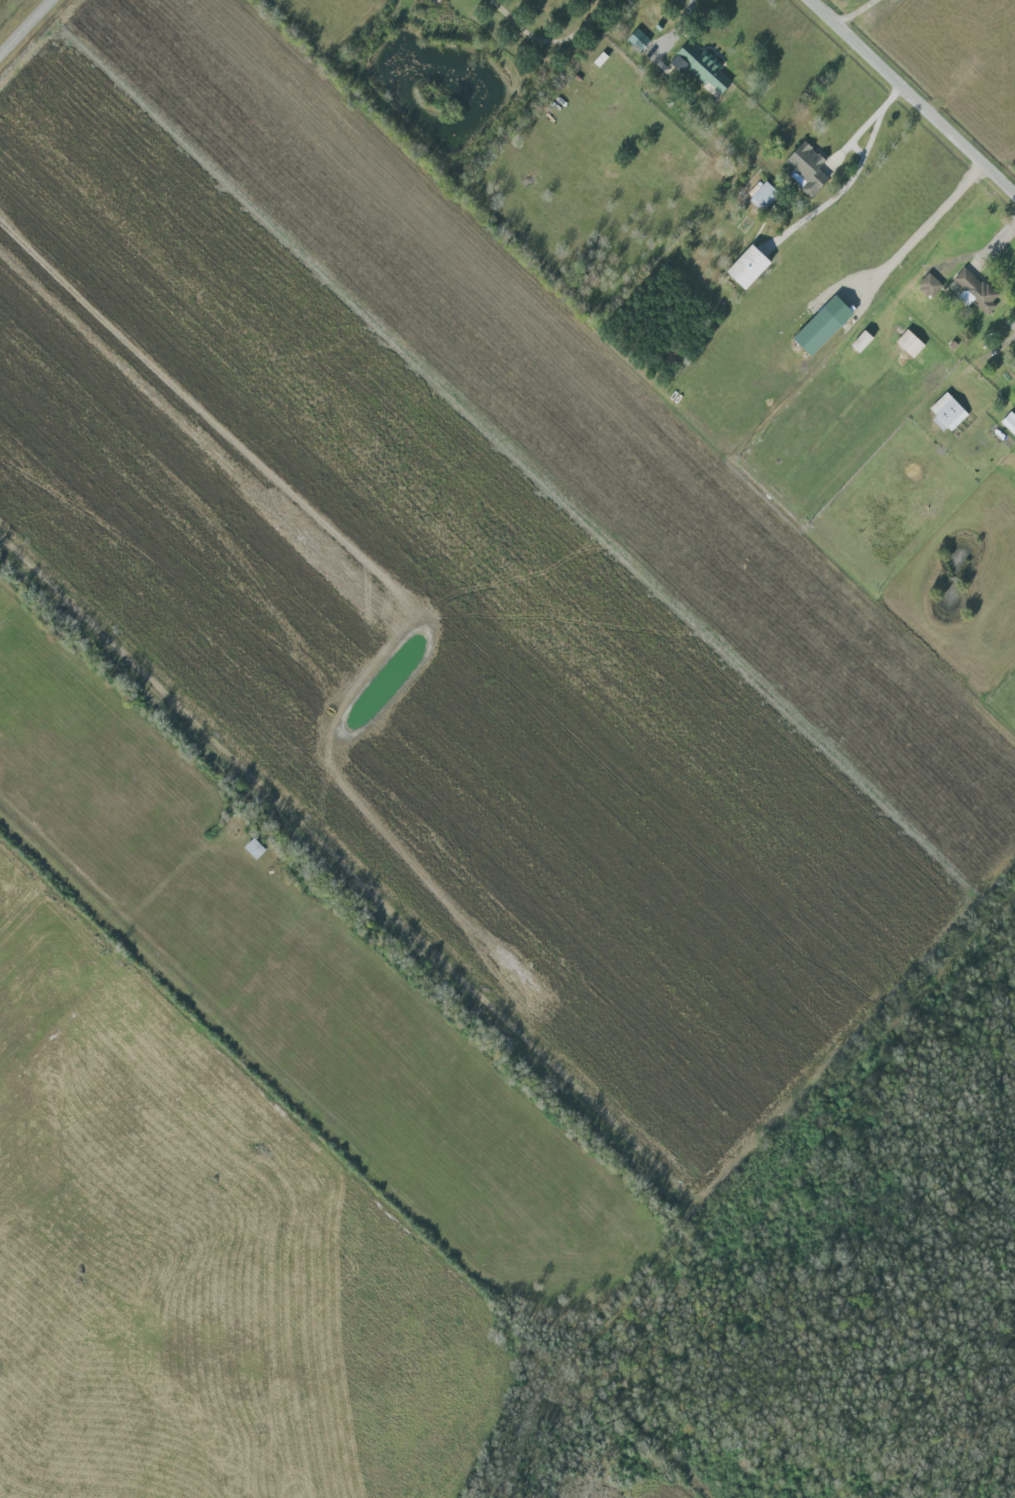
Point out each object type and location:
road: (864, 15)
road: (688, 16)
road: (25, 26)
building: (641, 40)
road: (555, 43)
building: (707, 69)
road: (917, 96)
road: (869, 125)
building: (810, 170)
building: (763, 195)
building: (752, 266)
building: (931, 285)
building: (977, 291)
building: (820, 330)
building: (865, 340)
building: (913, 343)
building: (1013, 364)
road: (626, 367)
road: (769, 410)
building: (950, 412)
building: (1010, 422)

